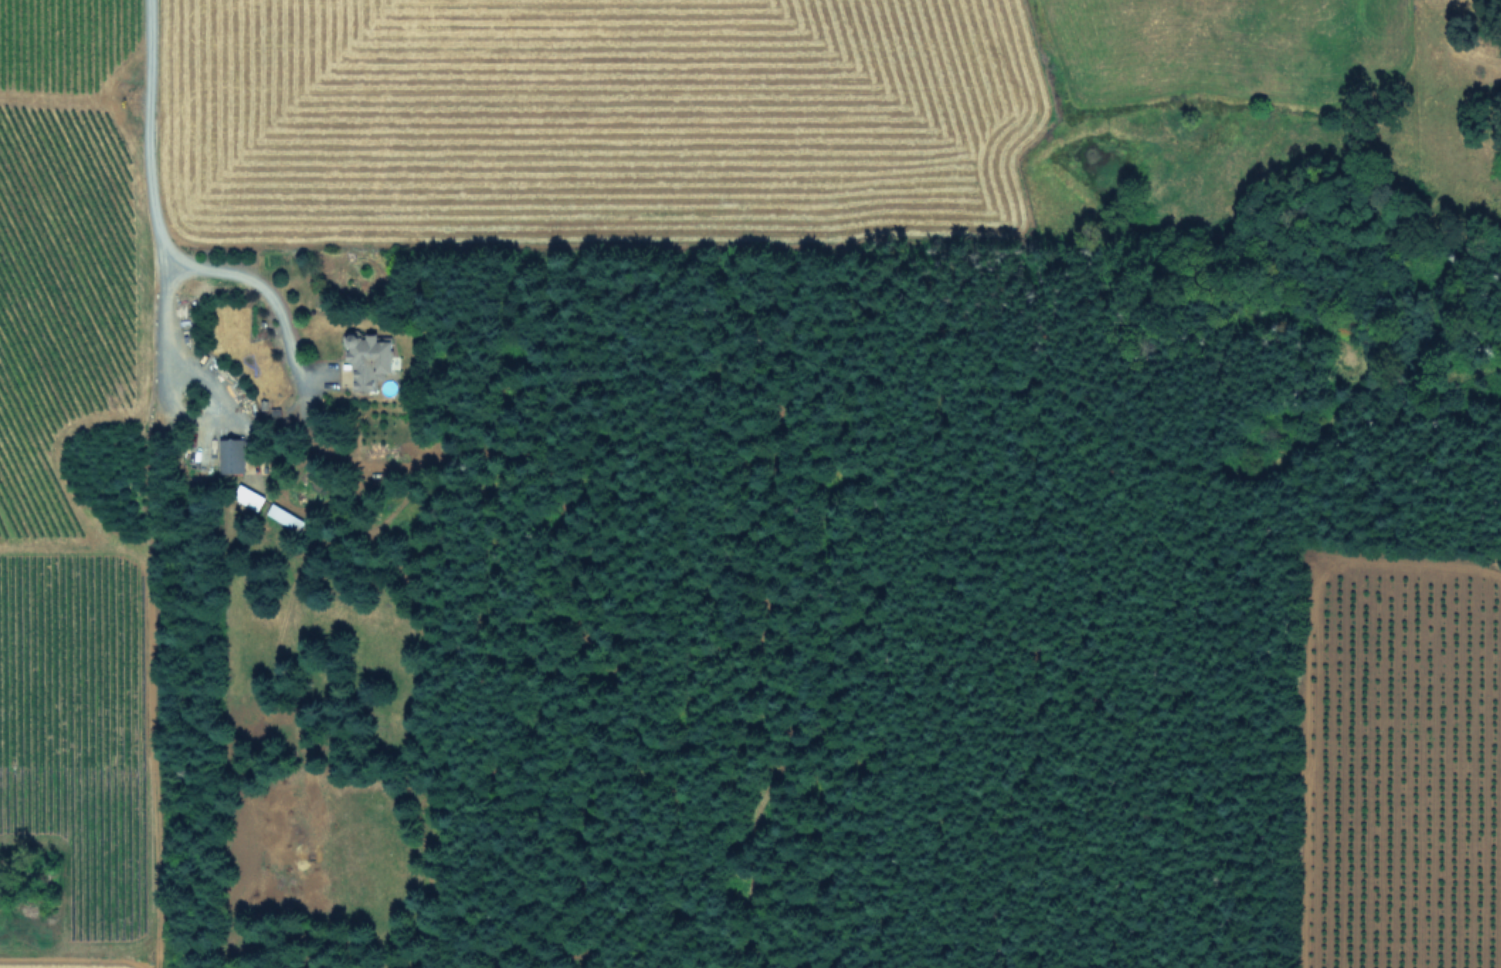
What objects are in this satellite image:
road: (154, 226)
road: (162, 378)
building: (251, 496)
building: (285, 516)
crop: (75, 599)
crop: (1406, 771)

